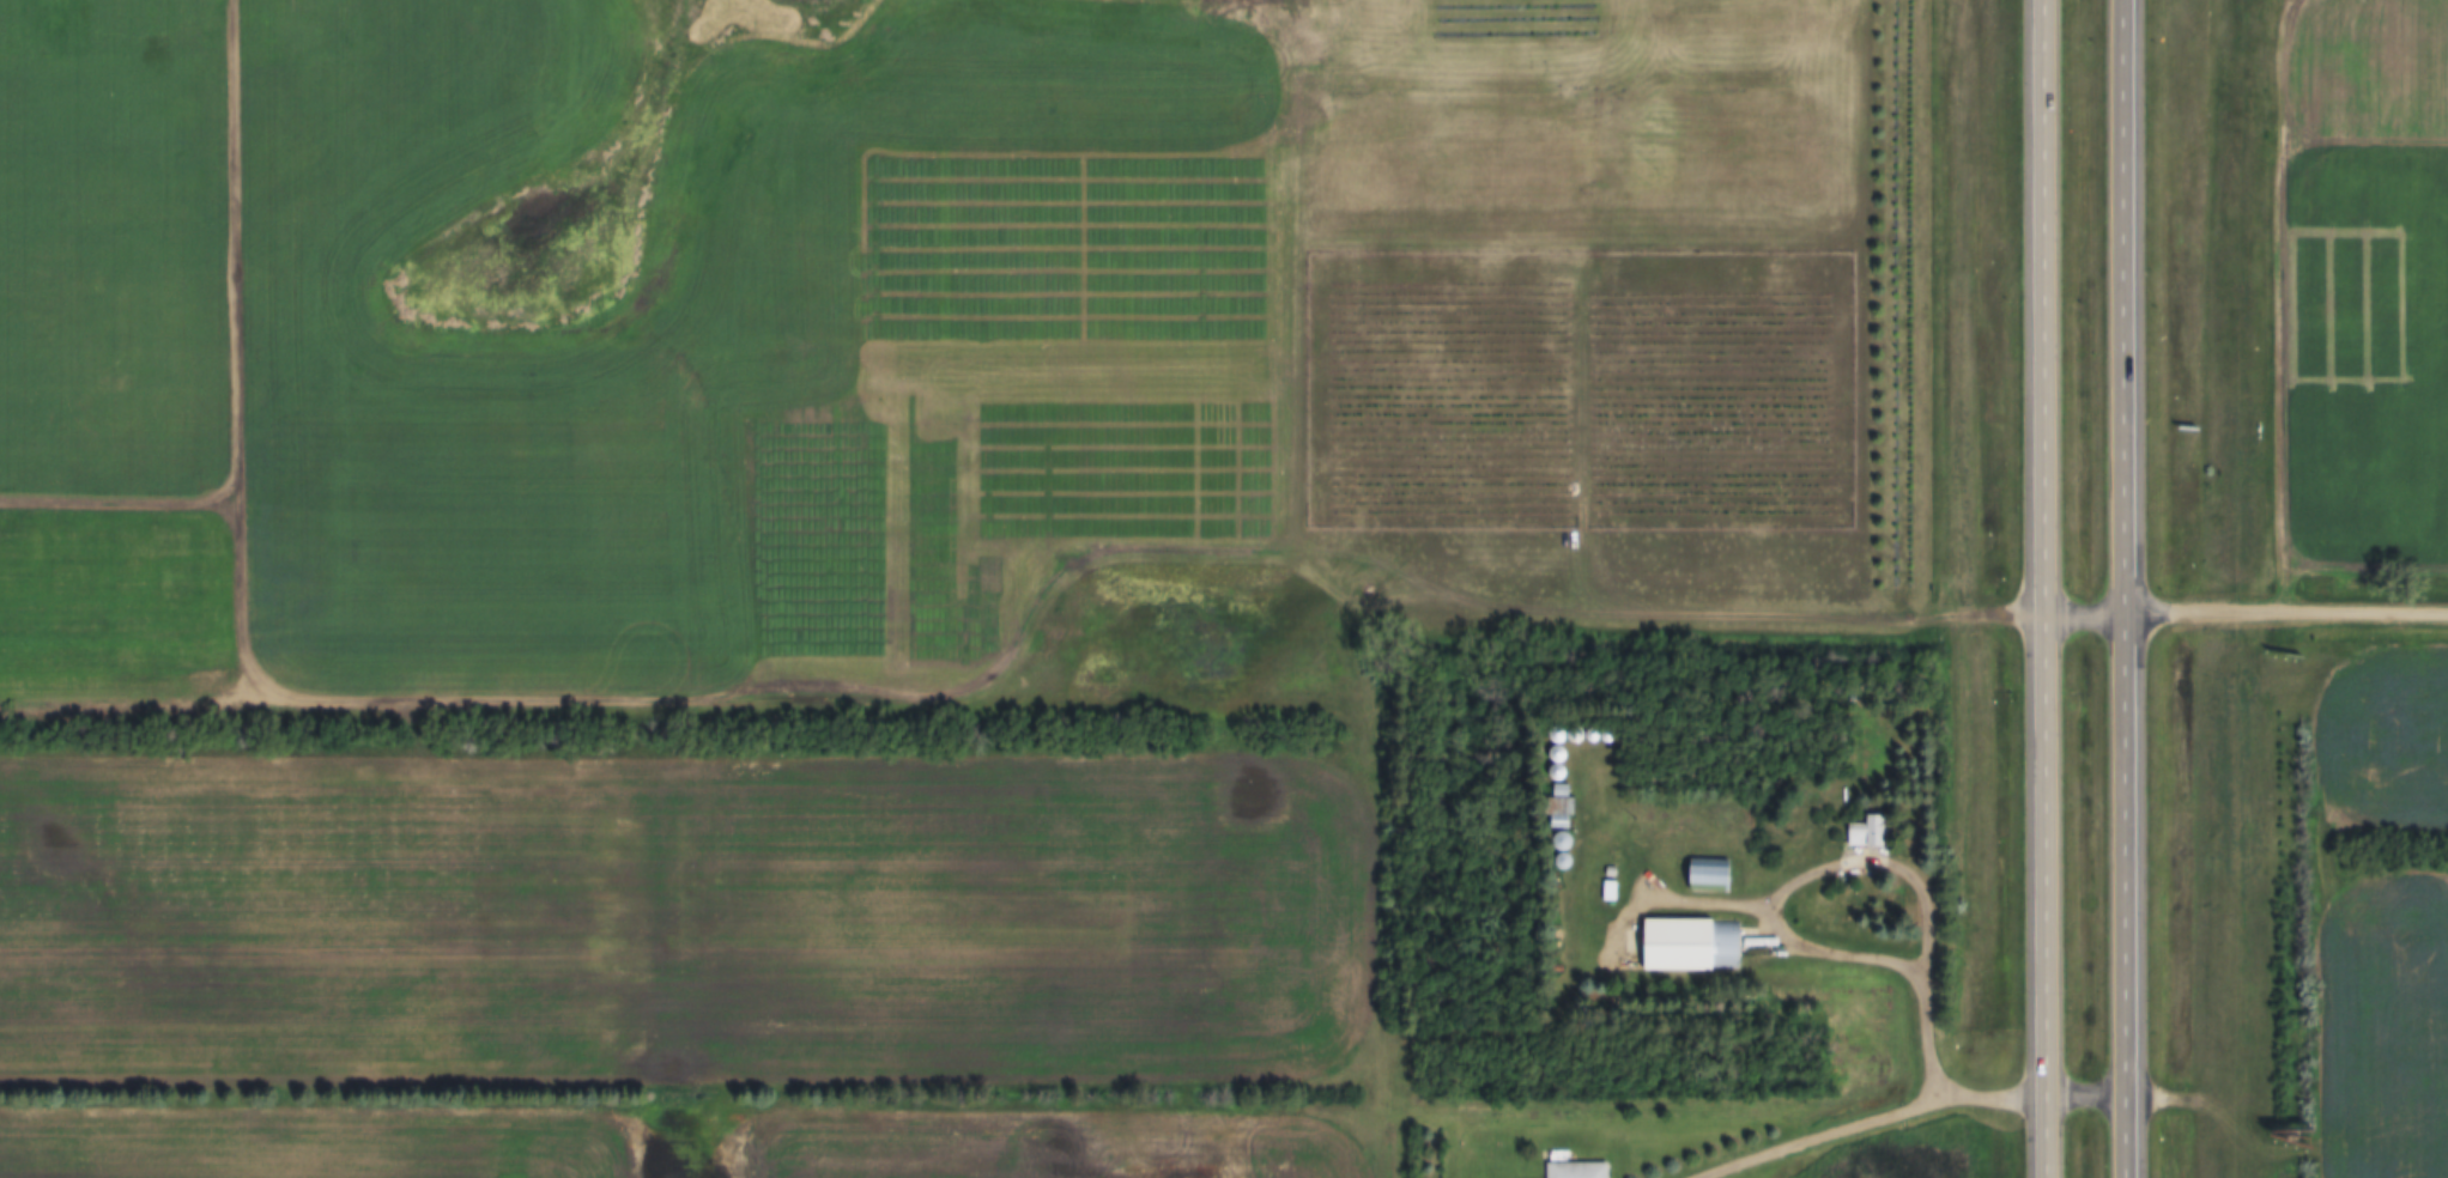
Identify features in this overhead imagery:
road: (2048, 588)
road: (2128, 589)
road: (2288, 605)
road: (2089, 612)
building: (1864, 833)
building: (1557, 843)
building: (1705, 876)
building: (1606, 892)
road: (2322, 923)
building: (1690, 945)
road: (1876, 953)
building: (1605, 963)
road: (2089, 1091)
road: (1820, 1133)
building: (1570, 1168)

